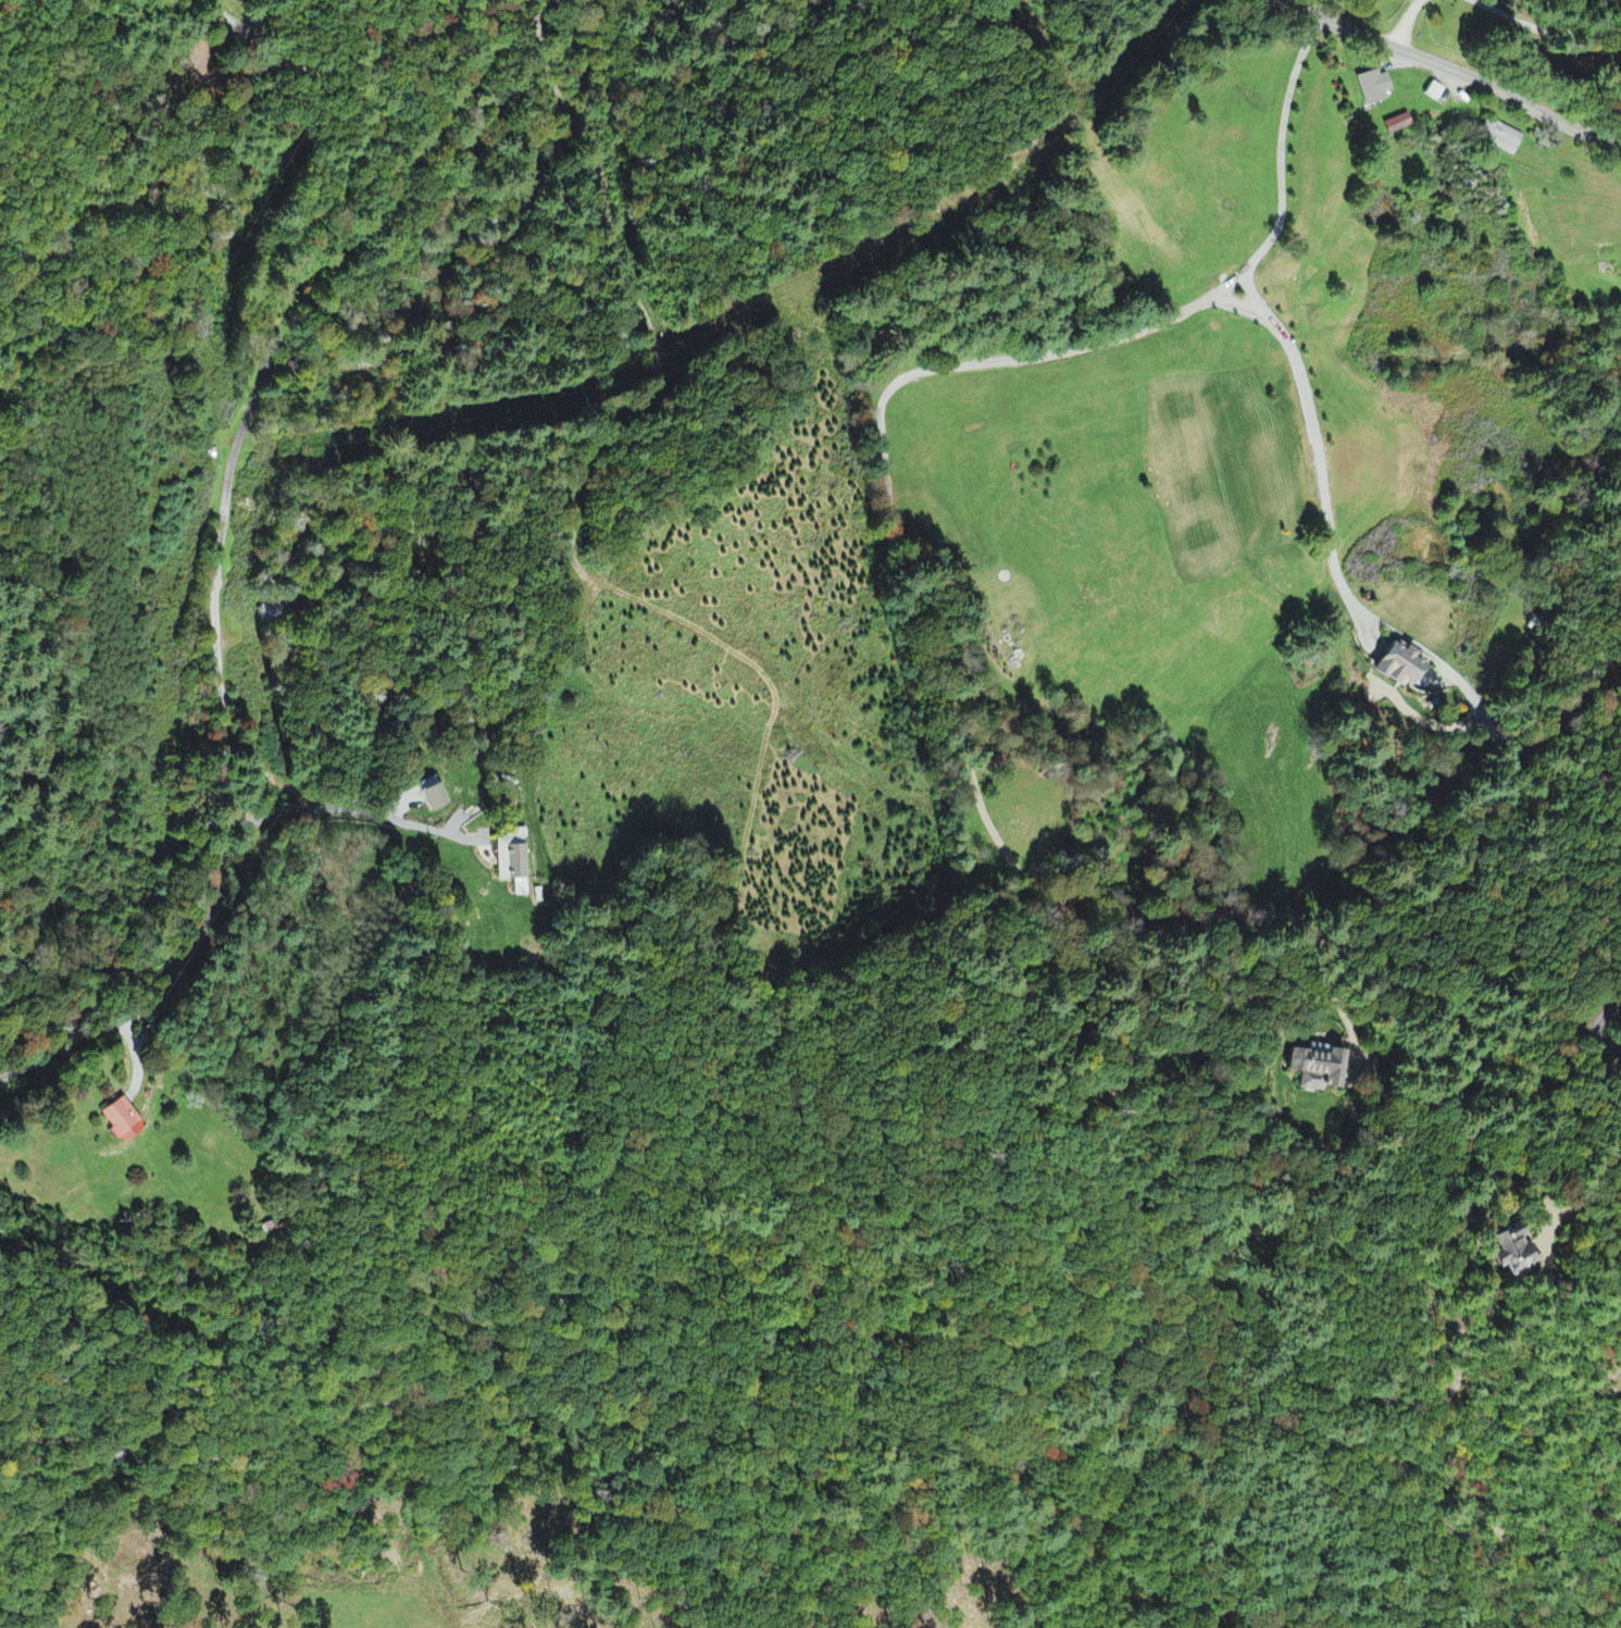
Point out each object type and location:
road: (1408, 25)
road: (1548, 29)
road: (1447, 71)
building: (1374, 89)
building: (1401, 126)
building: (1501, 138)
road: (1274, 320)
road: (606, 362)
road: (225, 539)
building: (1408, 667)
road: (303, 698)
building: (439, 799)
building: (515, 862)
road: (1599, 1017)
building: (1323, 1068)
building: (125, 1121)
building: (1523, 1251)

